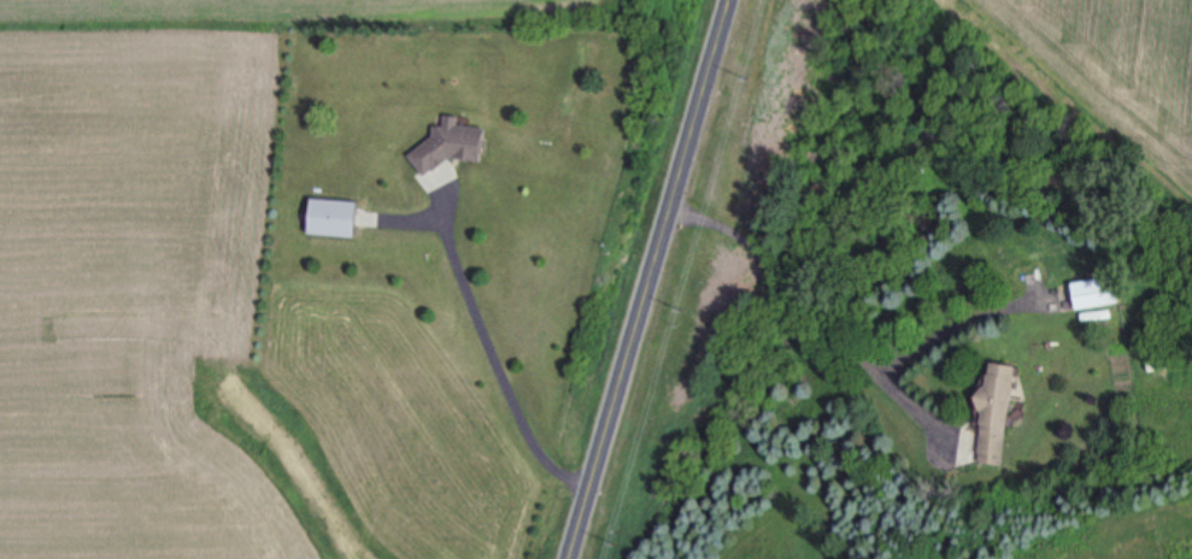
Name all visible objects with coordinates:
building: (447, 148)
building: (342, 219)
road: (644, 279)
building: (1103, 294)
road: (815, 313)
road: (494, 351)
building: (1159, 364)
building: (997, 418)

